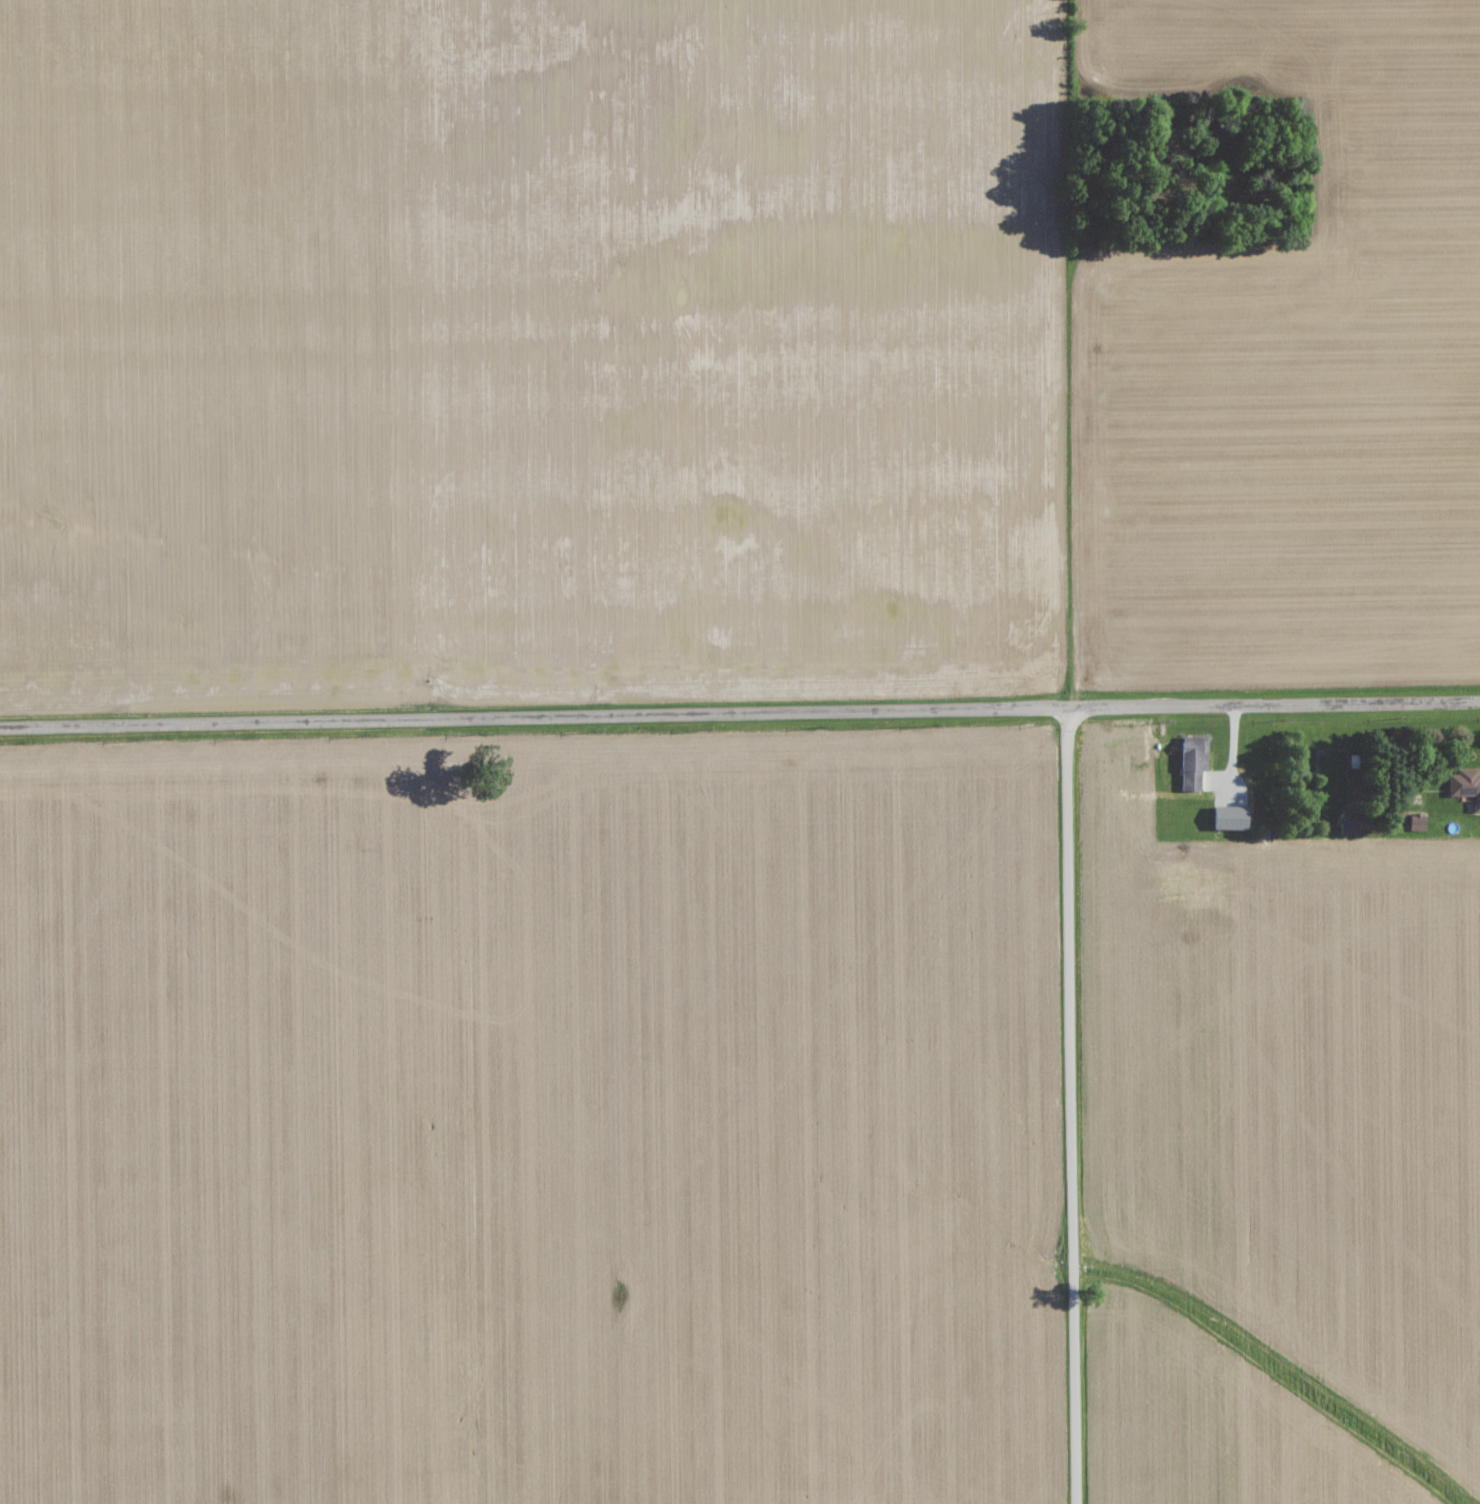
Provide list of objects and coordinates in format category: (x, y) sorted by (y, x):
road: (739, 716)
building: (1195, 769)
building: (1466, 785)
building: (1234, 818)
road: (1069, 1106)

